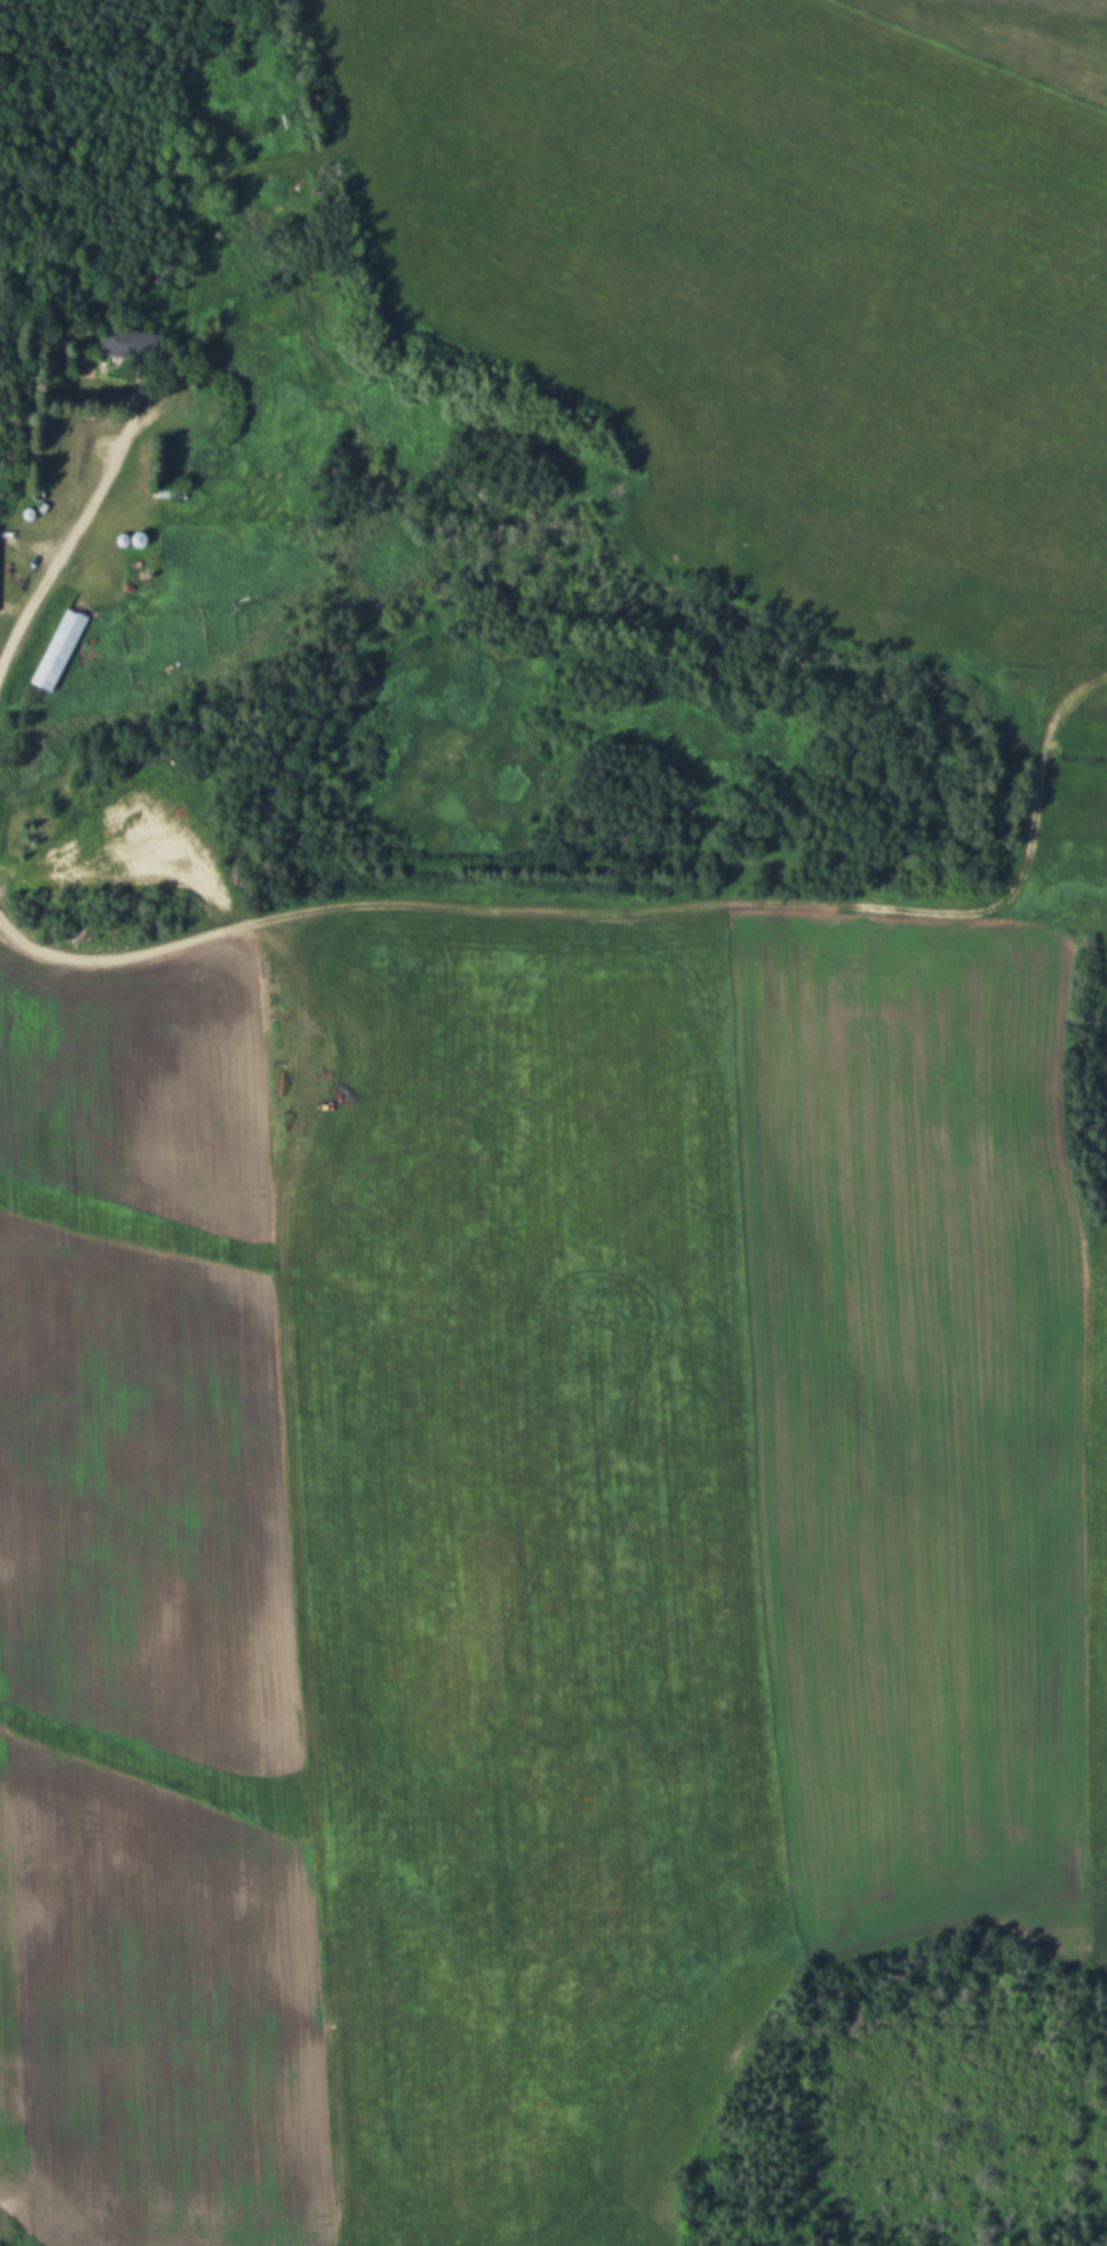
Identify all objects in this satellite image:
airport: (1026, 31)
building: (129, 343)
road: (71, 530)
road: (600, 901)

